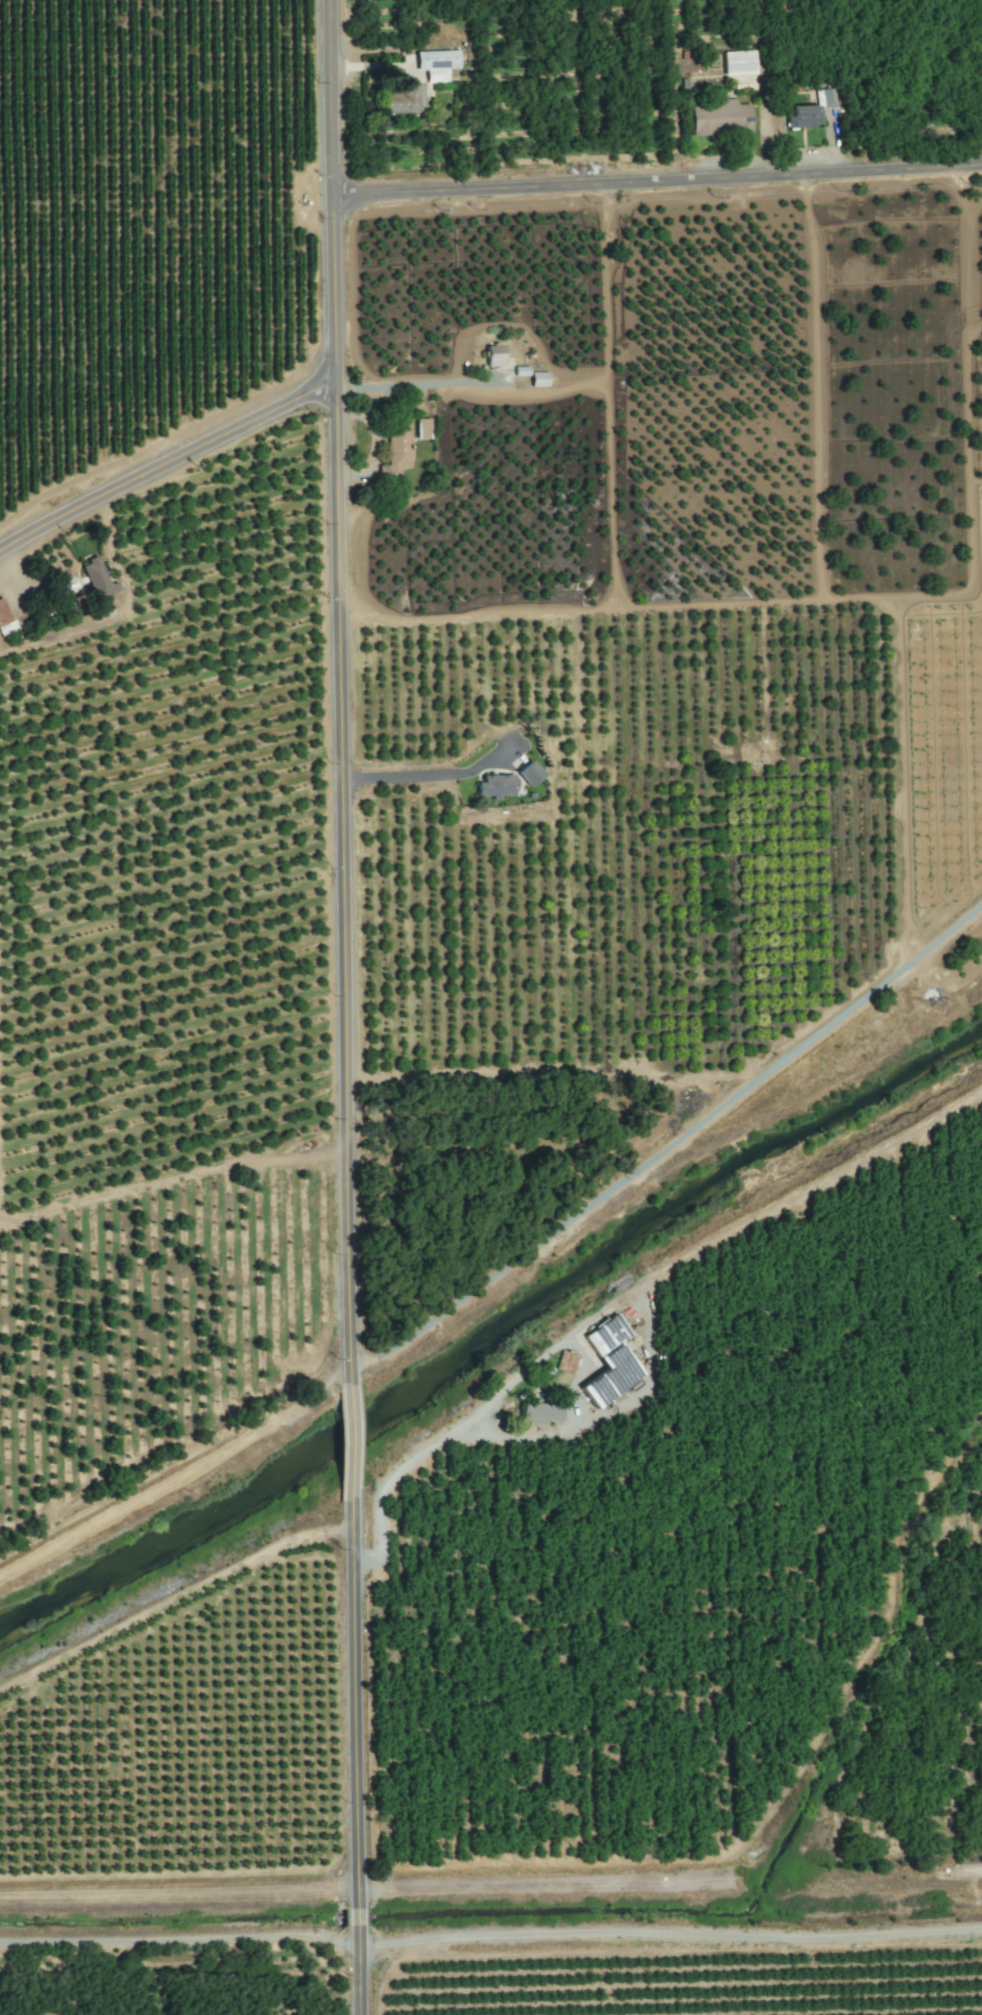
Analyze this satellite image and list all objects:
building: (437, 62)
building: (740, 62)
building: (831, 97)
building: (406, 98)
building: (805, 115)
building: (721, 116)
road: (659, 174)
building: (495, 355)
building: (521, 370)
building: (539, 378)
road: (416, 385)
building: (423, 428)
building: (396, 451)
road: (179, 453)
building: (97, 578)
building: (5, 618)
road: (341, 676)
building: (530, 773)
road: (414, 779)
building: (496, 785)
building: (565, 1361)
building: (610, 1361)
building: (547, 1412)
road: (347, 1424)
road: (433, 1437)
road: (352, 1694)
road: (356, 1923)
road: (357, 1984)

